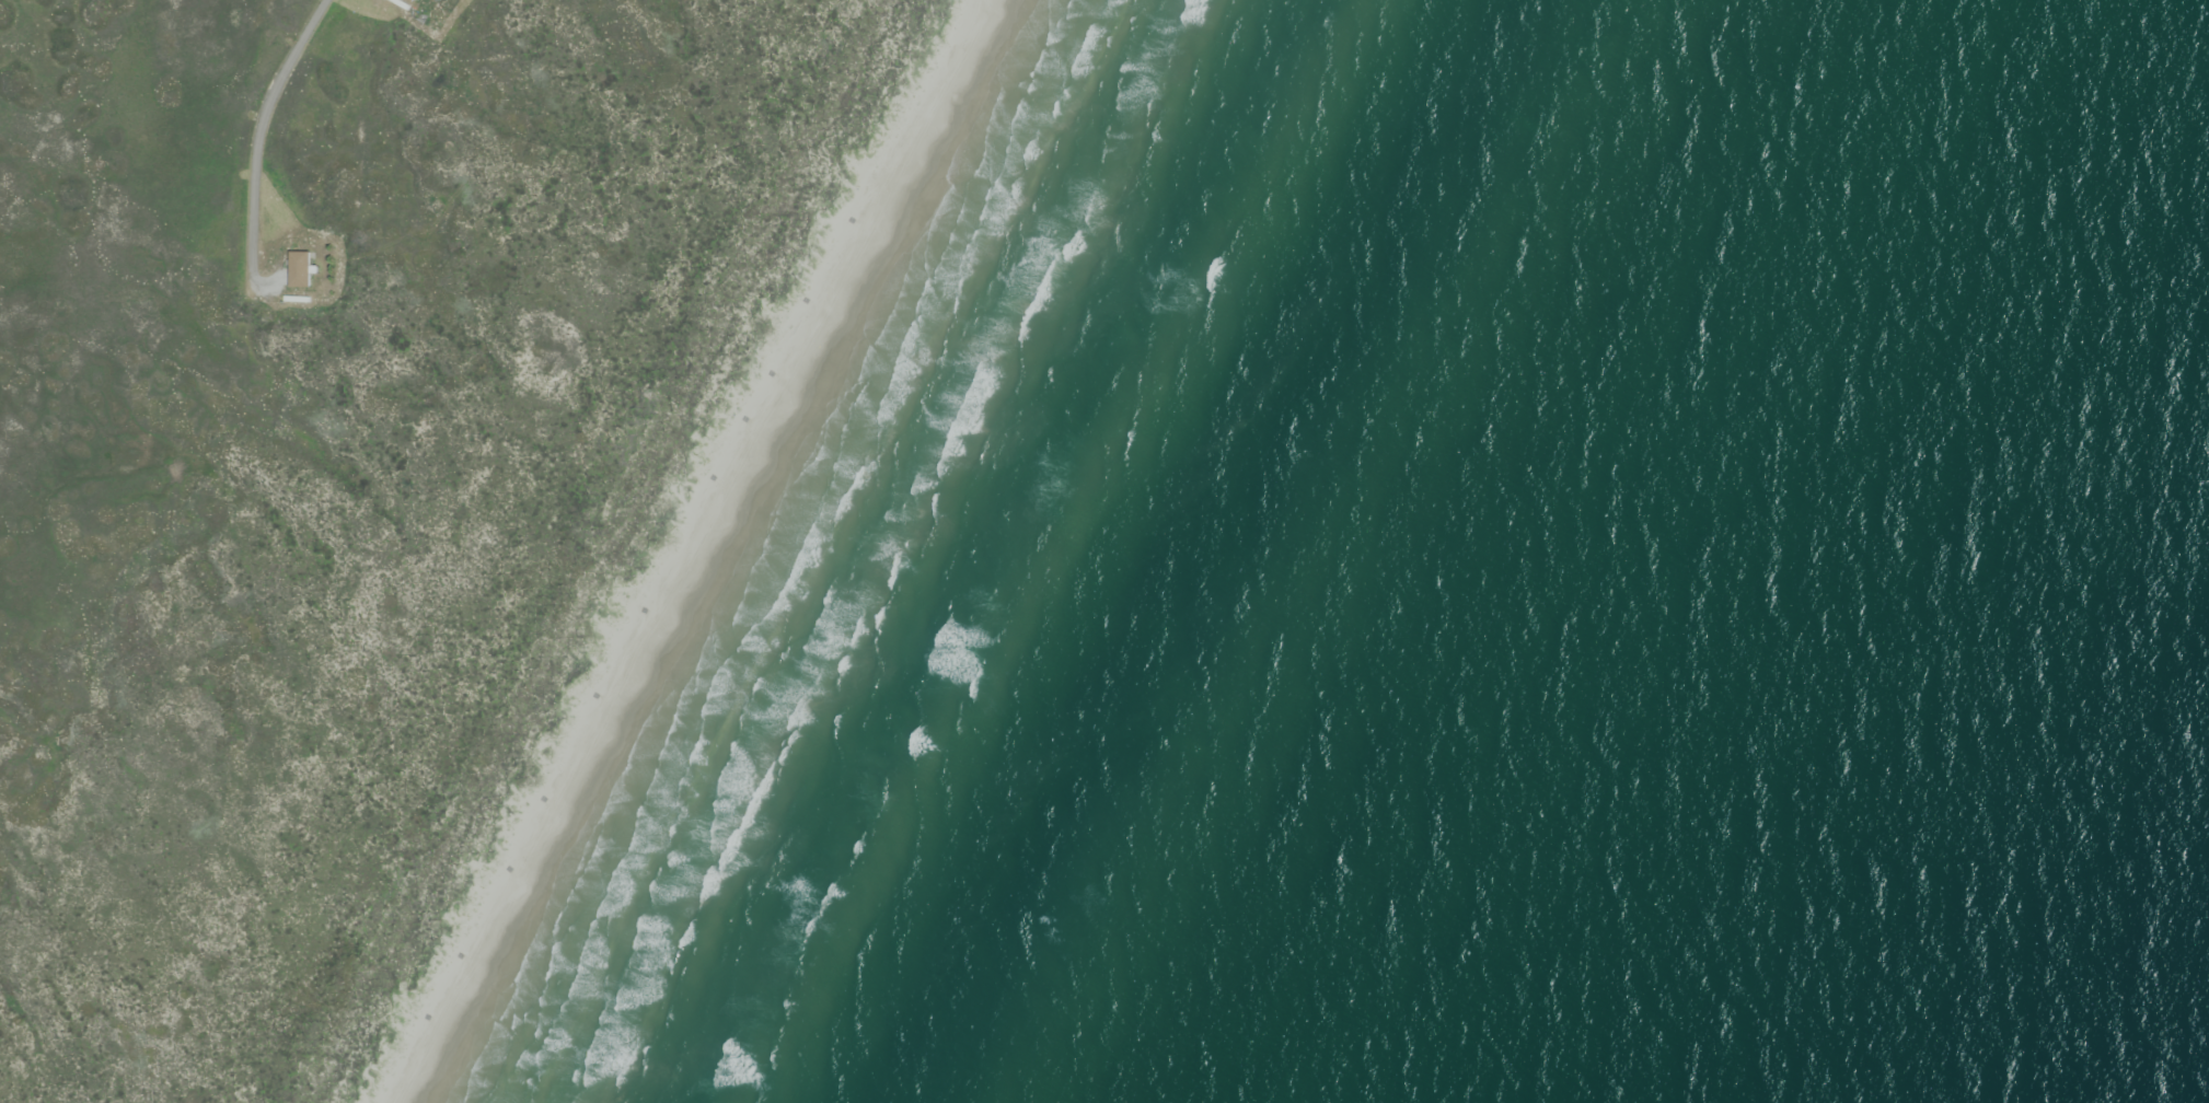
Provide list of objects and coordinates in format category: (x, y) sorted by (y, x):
building: (409, 1)
road: (259, 131)
building: (298, 271)
road: (269, 282)
park: (525, 499)

